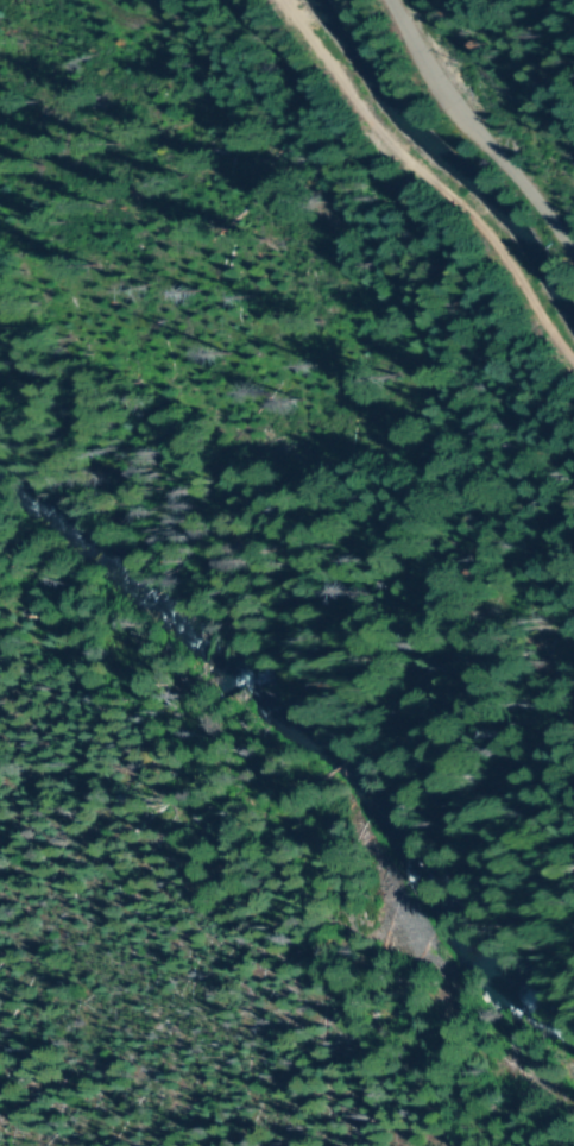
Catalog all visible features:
road: (475, 131)
road: (431, 177)
road: (308, 688)
river: (315, 748)

